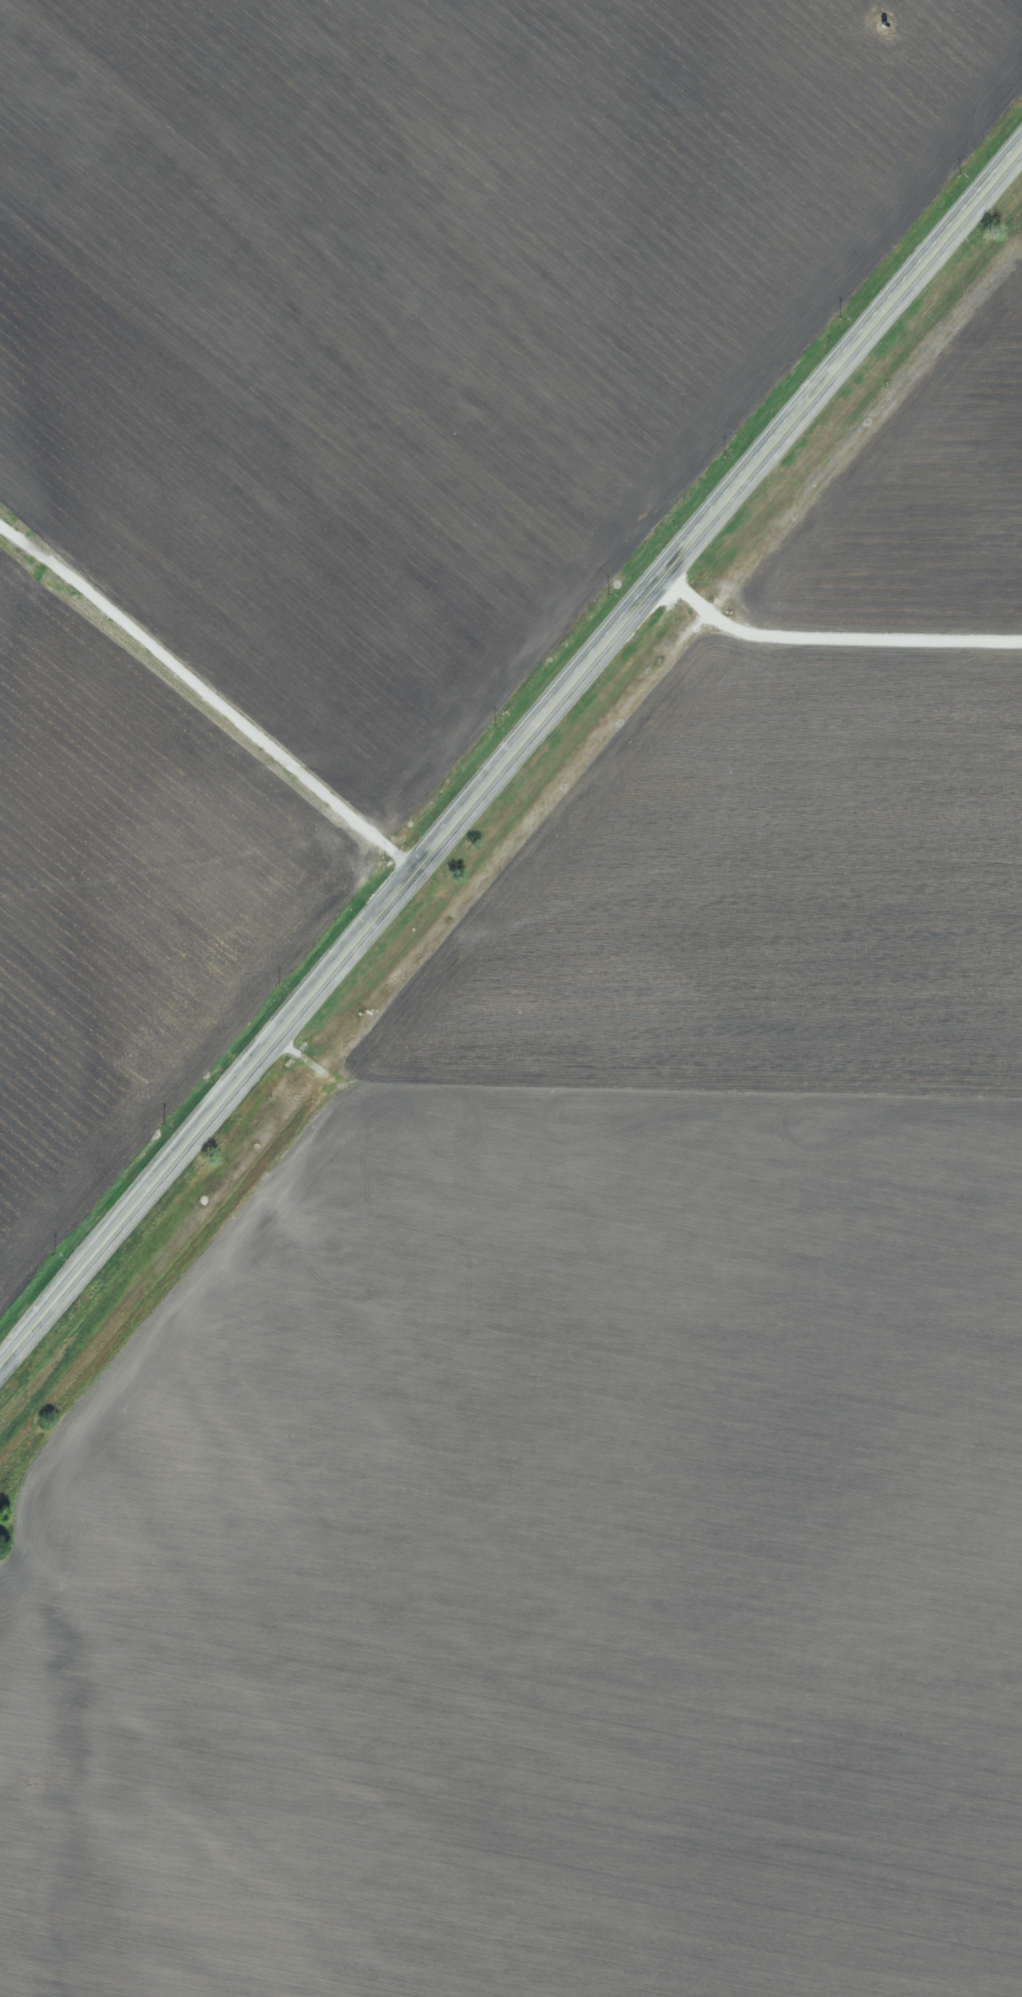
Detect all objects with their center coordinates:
road: (838, 622)
road: (510, 762)
railway: (511, 848)

